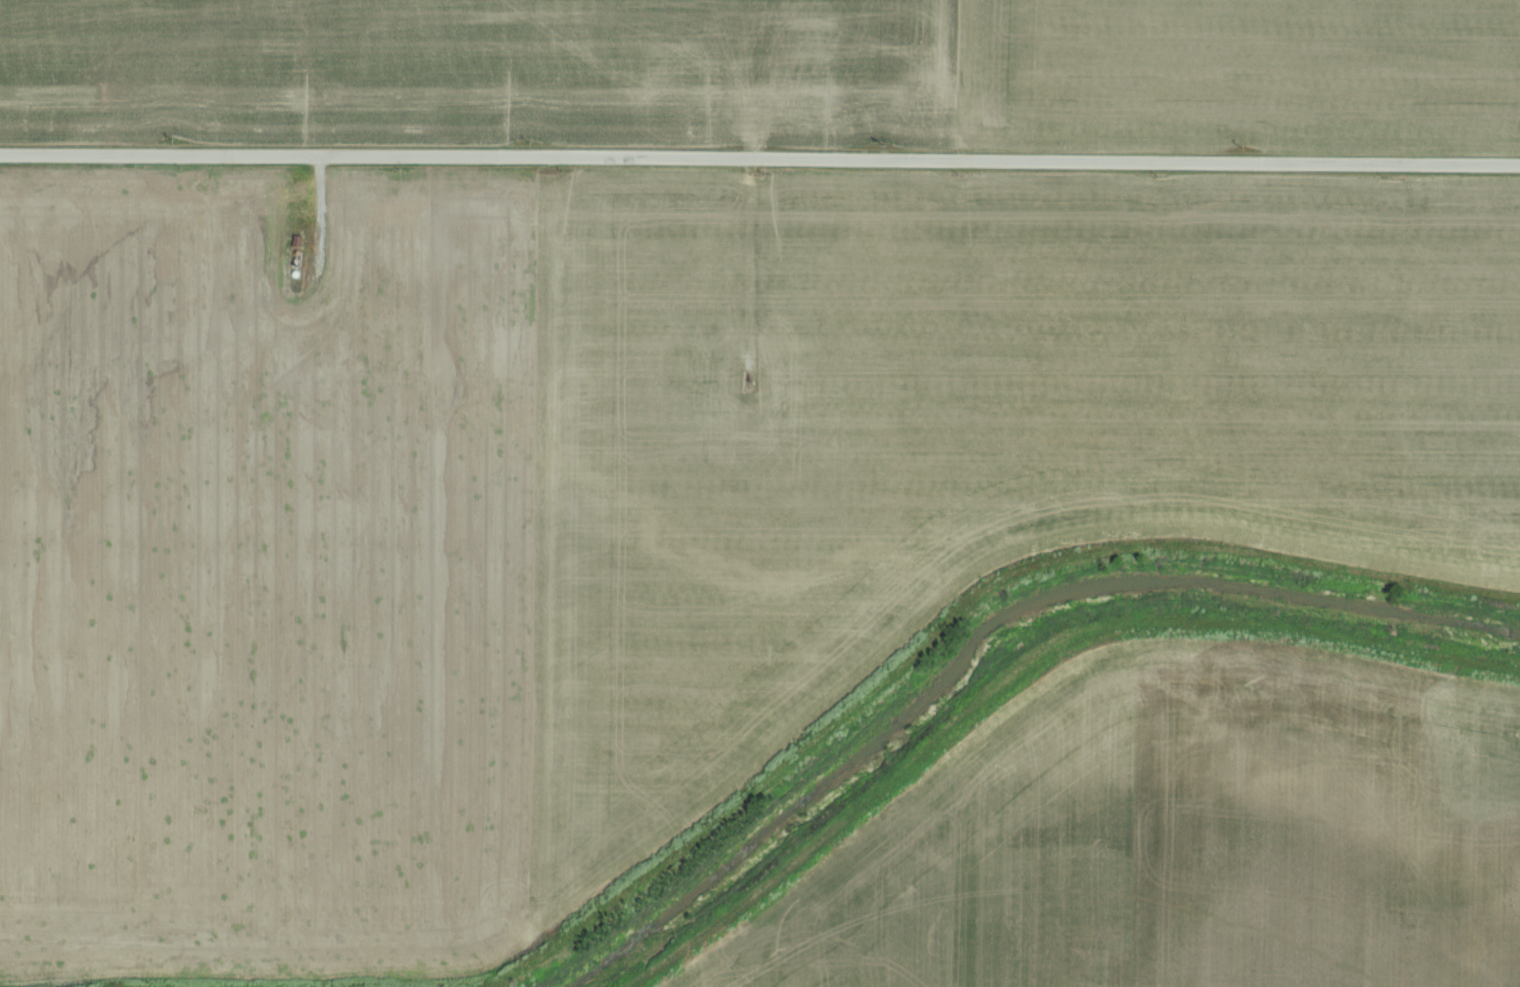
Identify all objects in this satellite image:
road: (315, 77)
road: (760, 157)
road: (322, 217)
building: (301, 241)
road: (751, 259)
petroleum well: (751, 378)
river: (989, 634)

